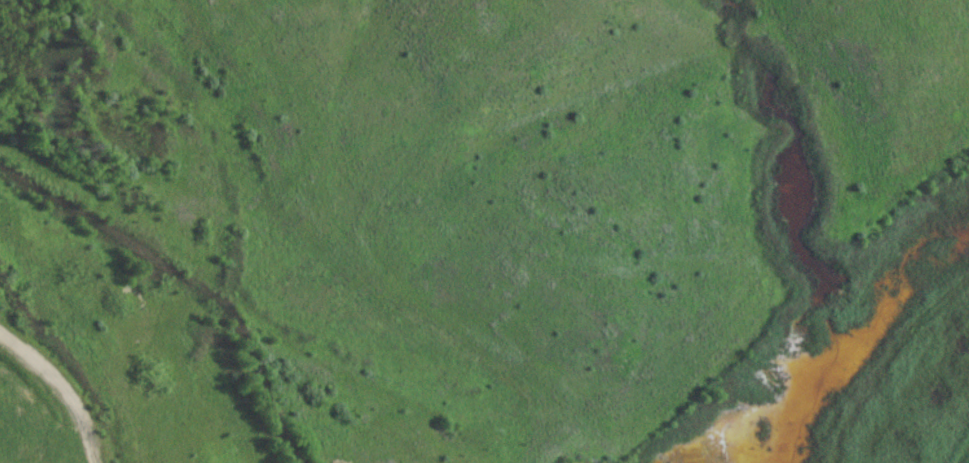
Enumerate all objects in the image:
road: (63, 386)

